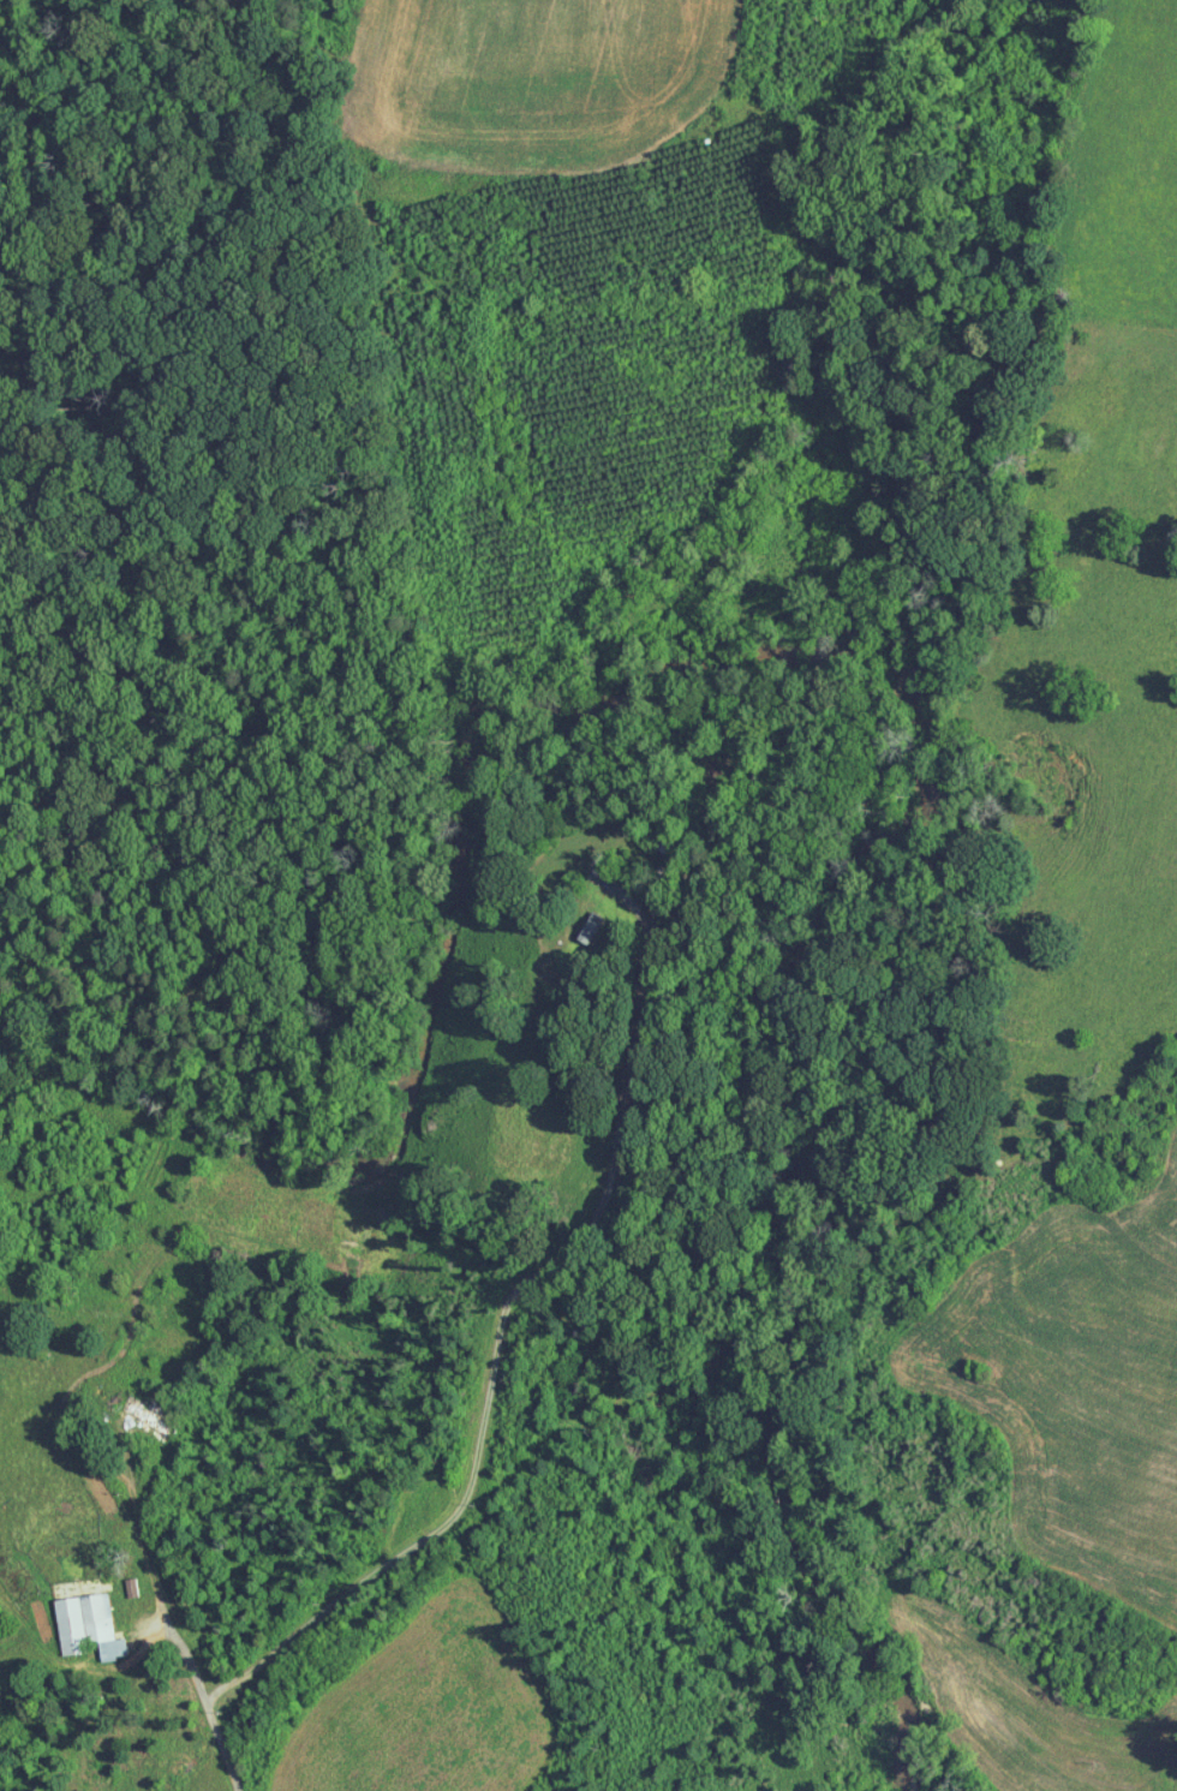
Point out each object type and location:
road: (501, 1320)
road: (166, 1611)

